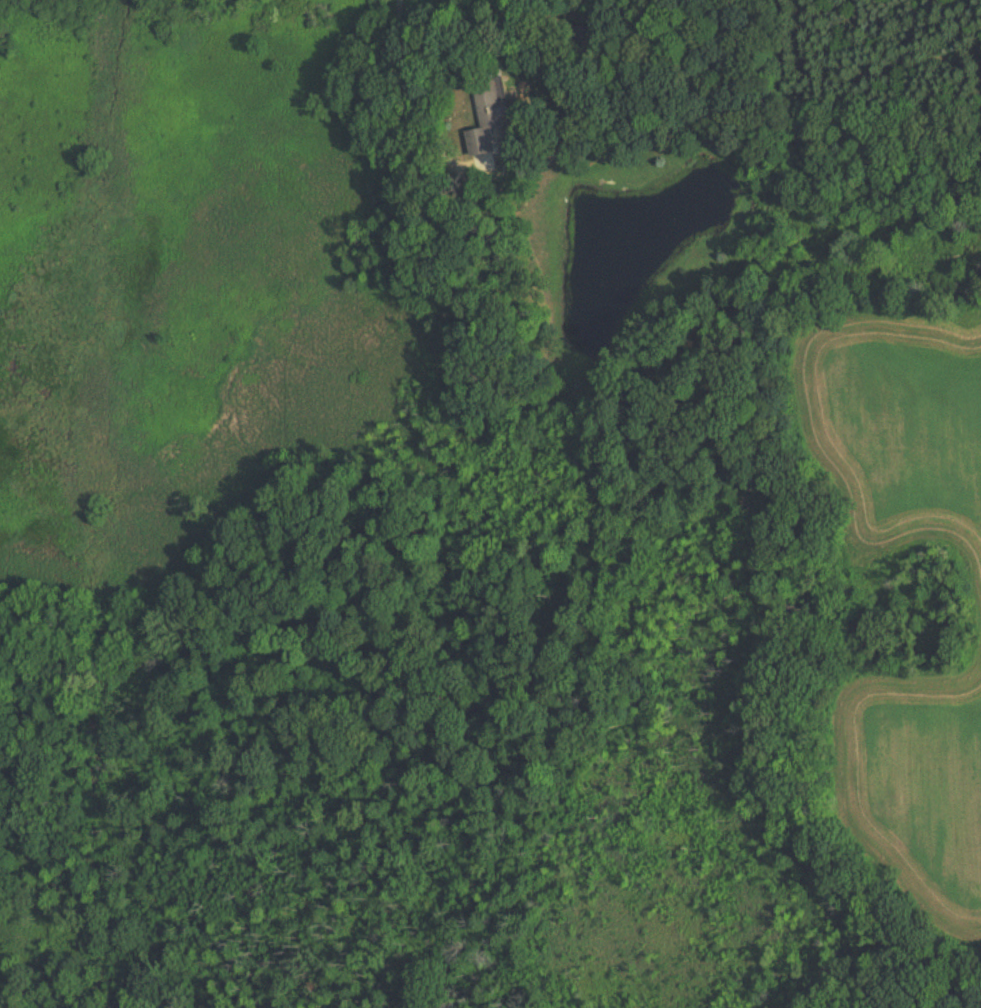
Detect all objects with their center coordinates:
road: (538, 28)
building: (494, 115)

